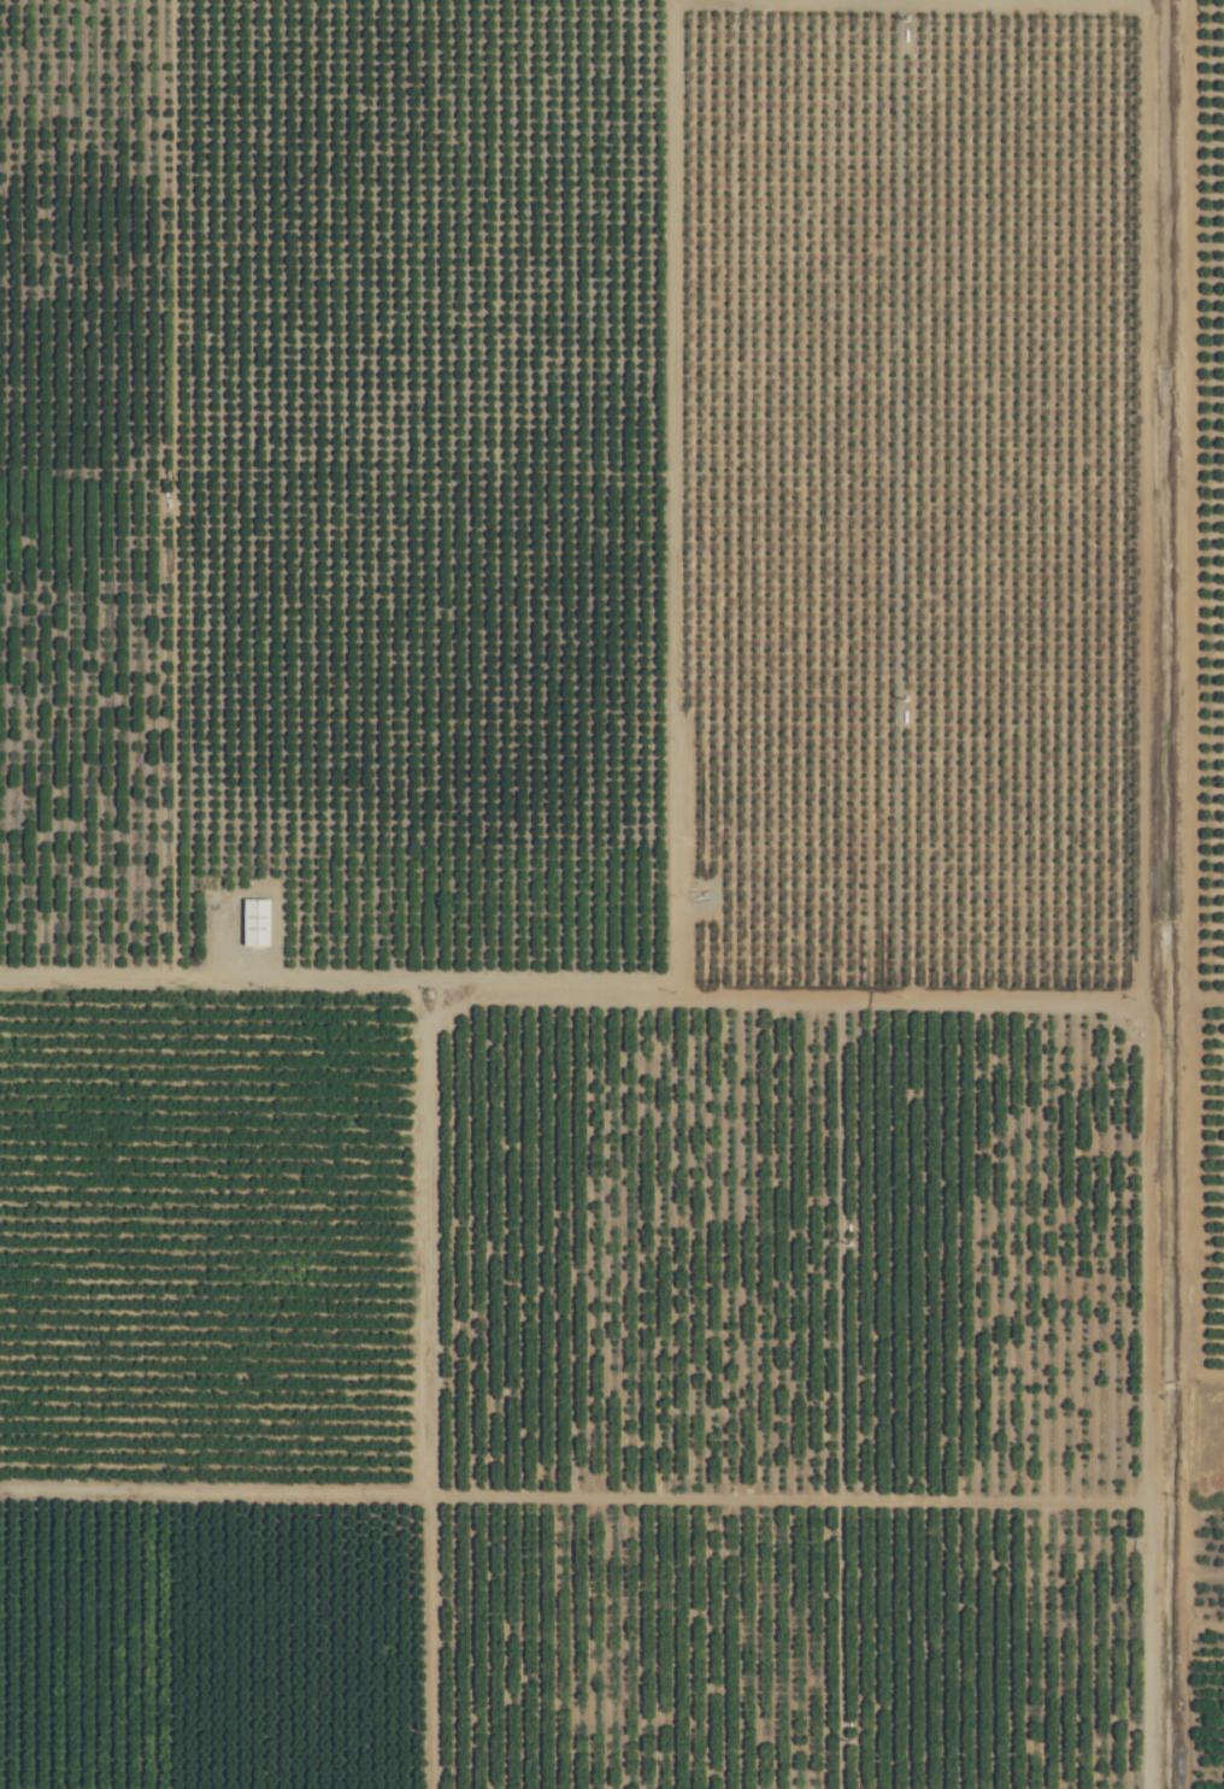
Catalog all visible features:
crop: (612, 894)
building: (252, 922)
road: (113, 983)

